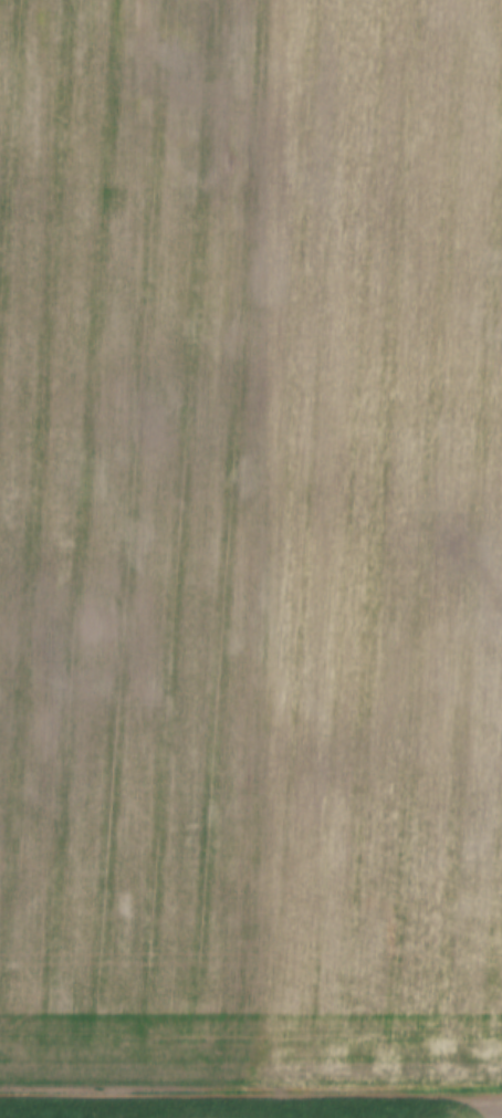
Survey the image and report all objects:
road: (251, 1091)

